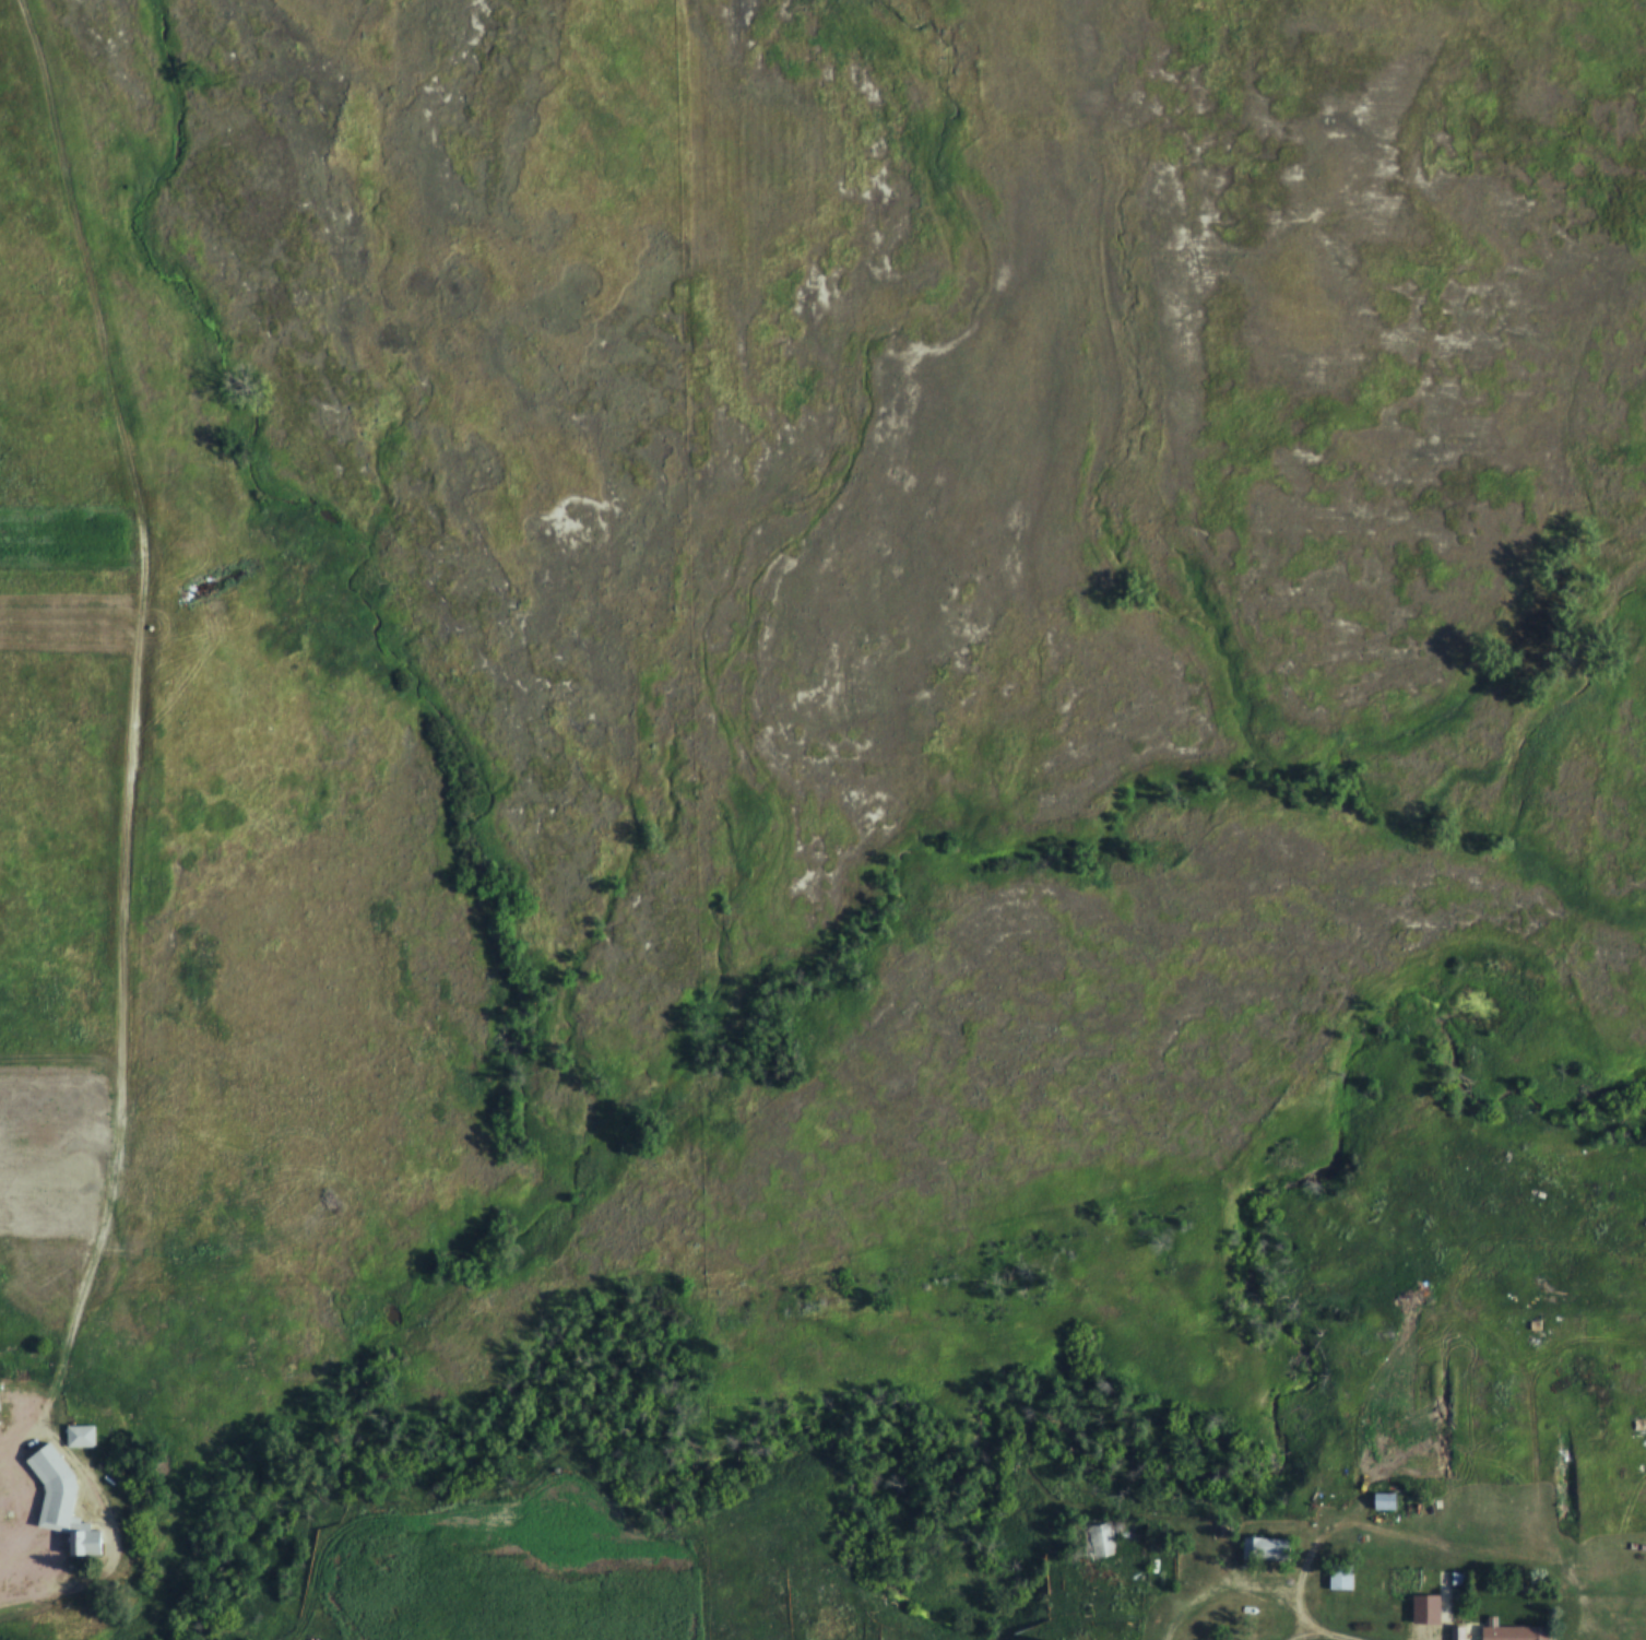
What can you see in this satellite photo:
building: (79, 1436)
building: (1385, 1502)
building: (60, 1503)
building: (473, 1533)
building: (1090, 1539)
building: (1264, 1549)
building: (1338, 1578)
building: (1461, 1632)
building: (1512, 1633)

